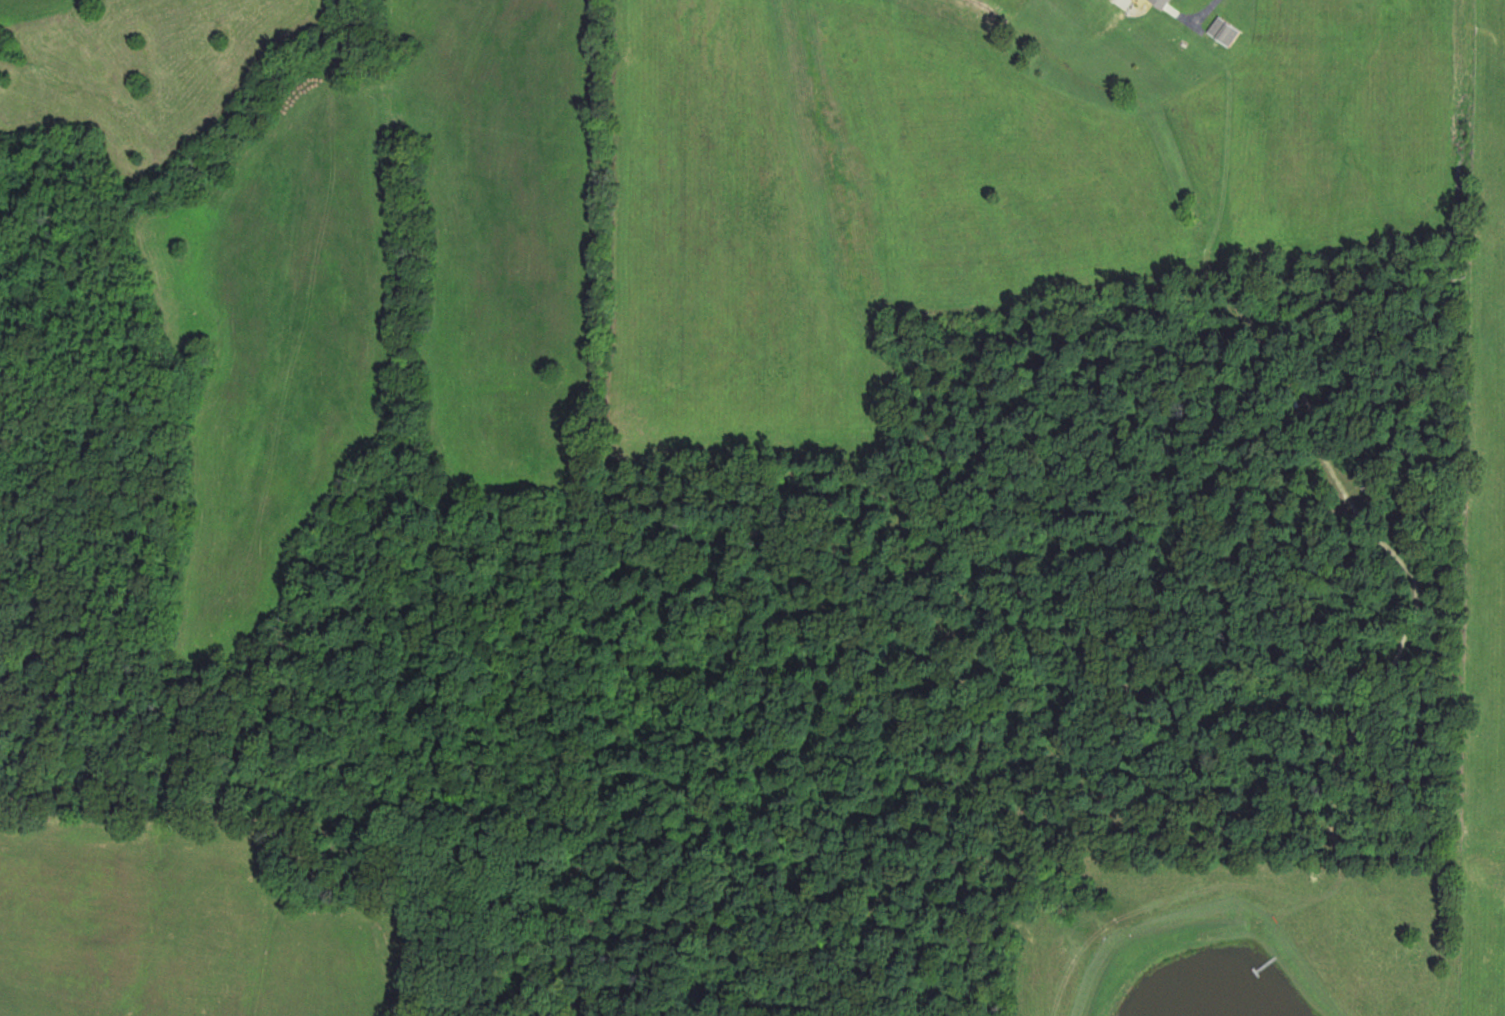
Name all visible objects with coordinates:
building: (1162, 3)
building: (1225, 31)

